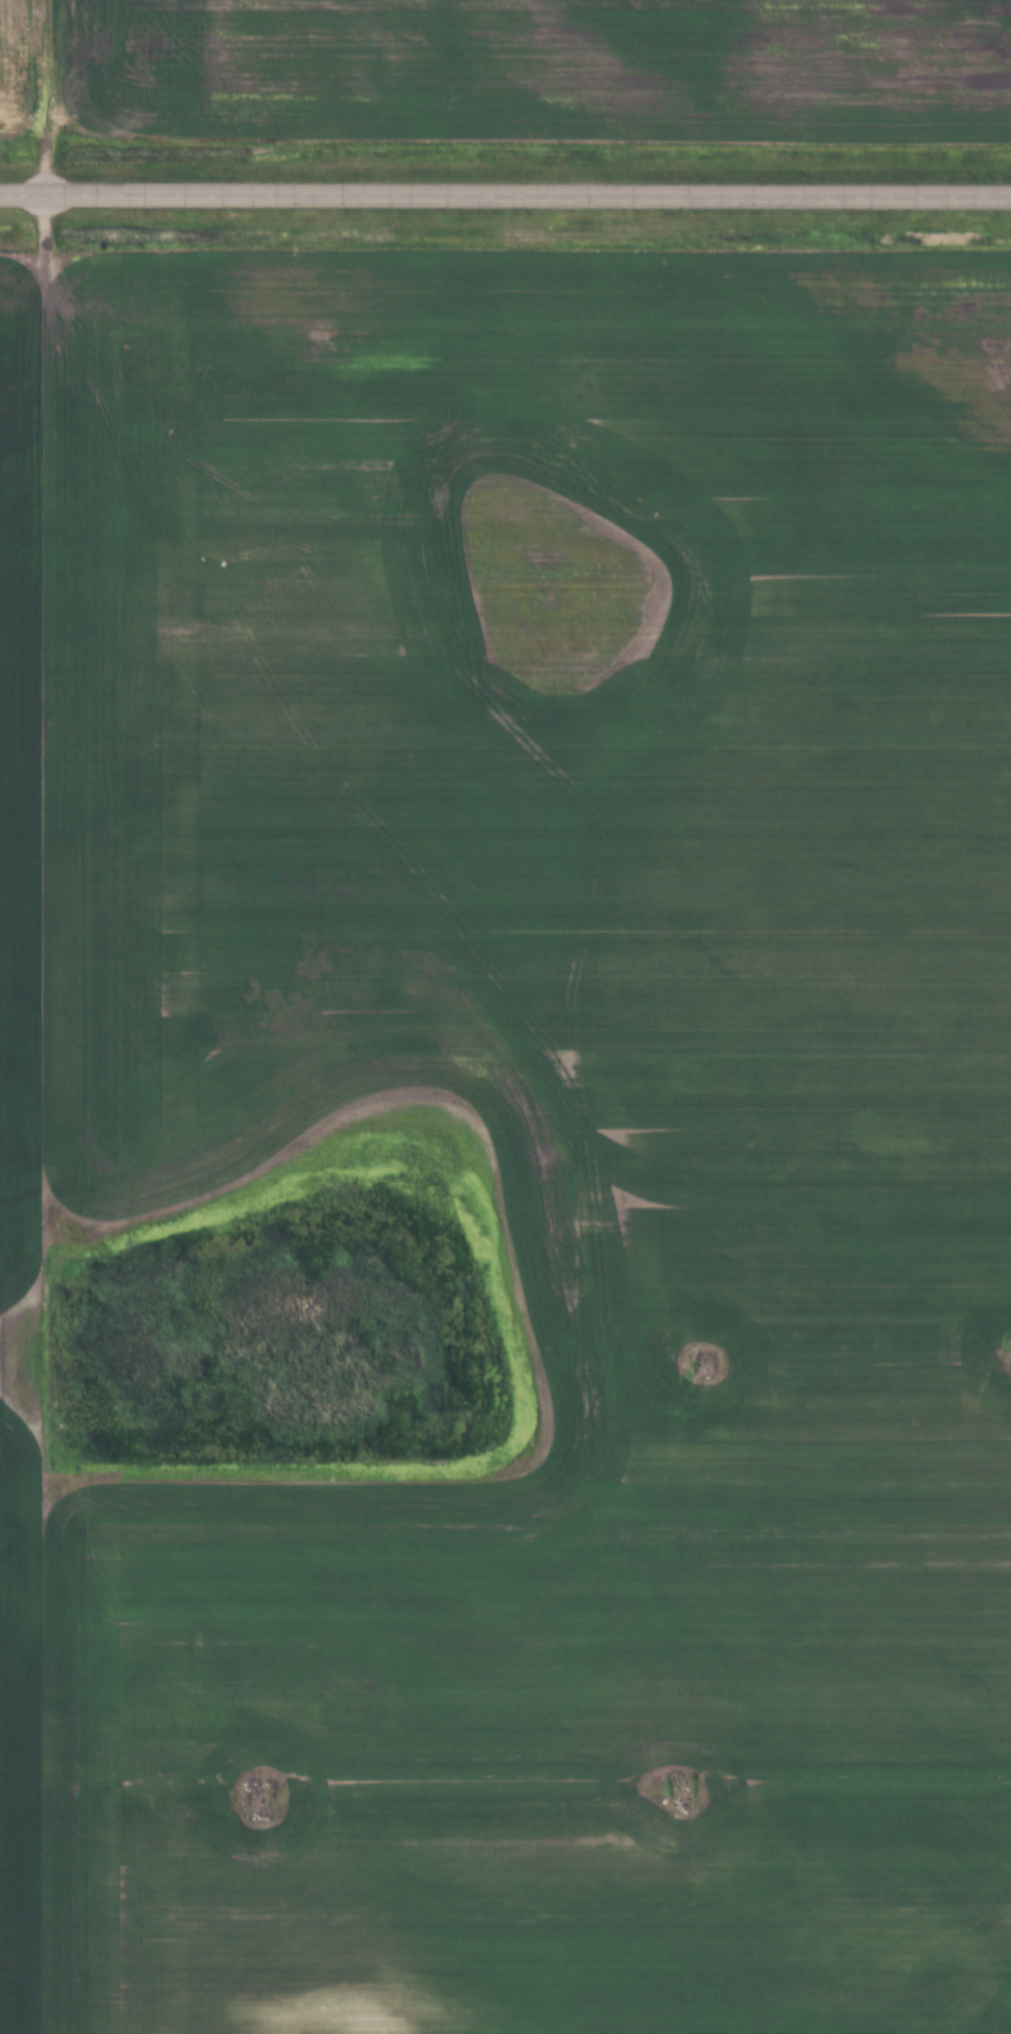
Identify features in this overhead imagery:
road: (505, 190)

